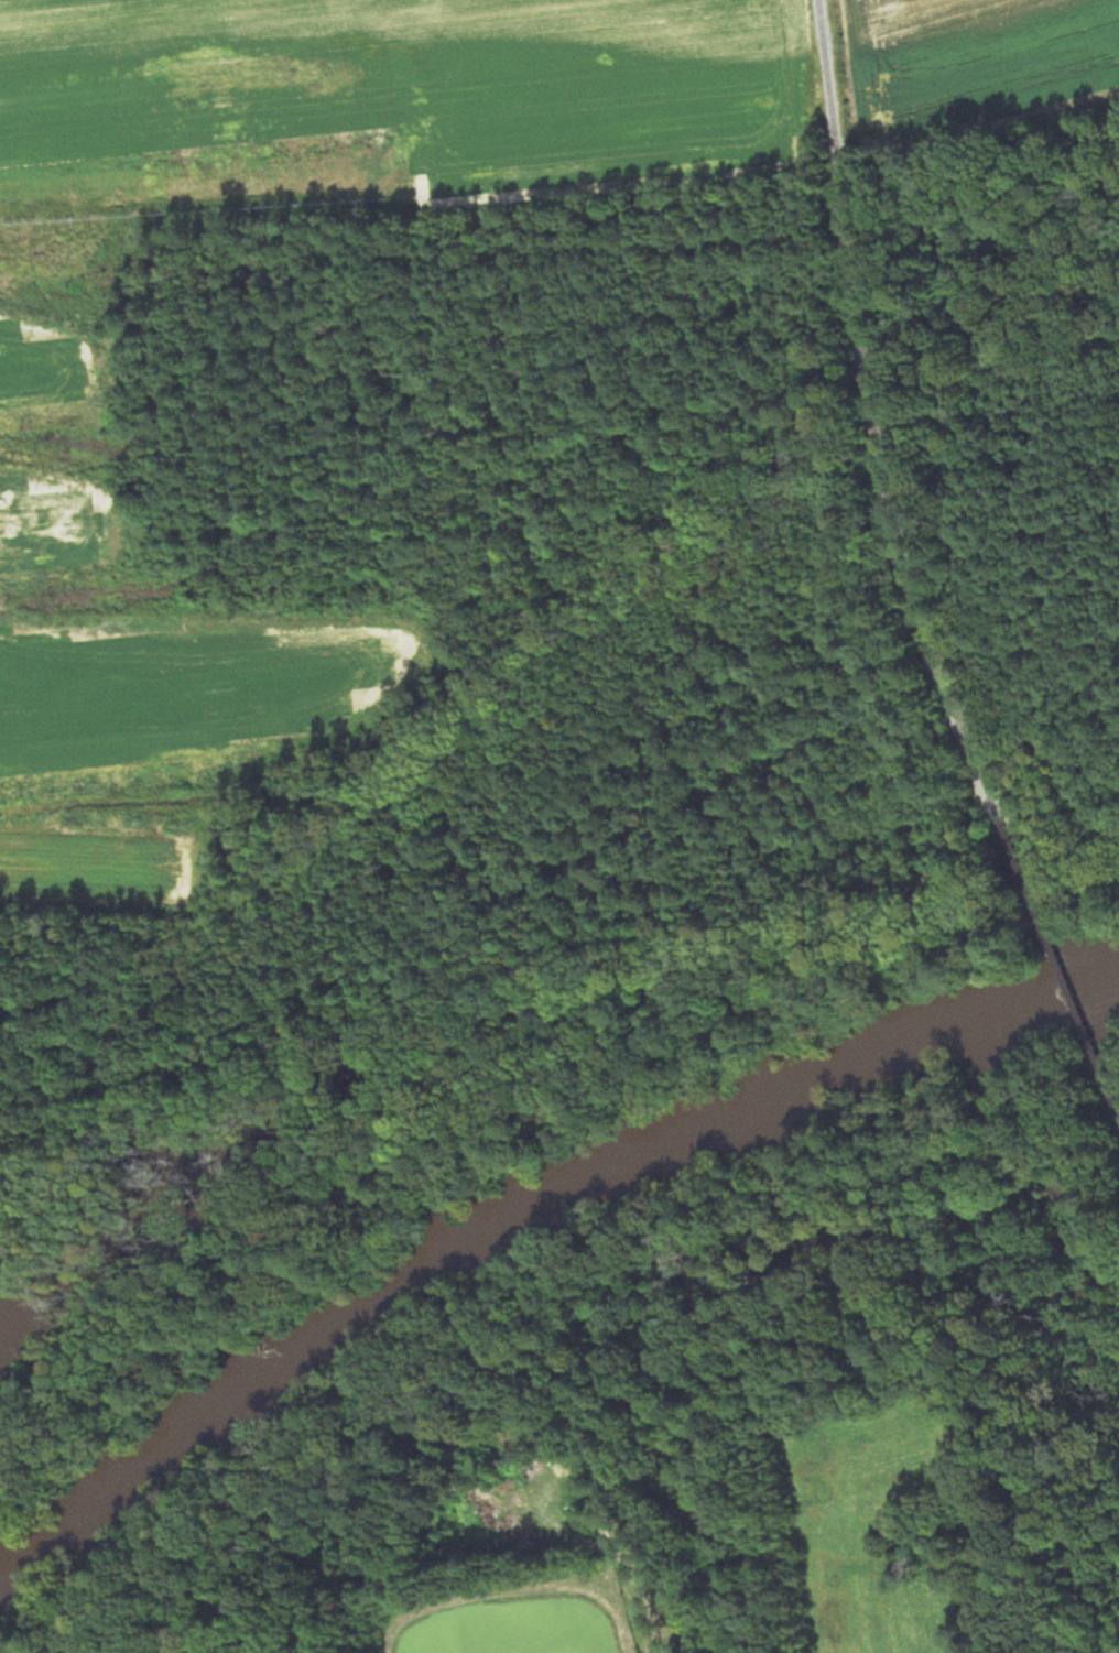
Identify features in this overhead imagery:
railway: (889, 470)
river: (1060, 985)
railway: (1074, 987)
river: (956, 1030)
railway: (1110, 1073)
river: (432, 1253)
river: (8, 1572)
road: (643, 1596)

